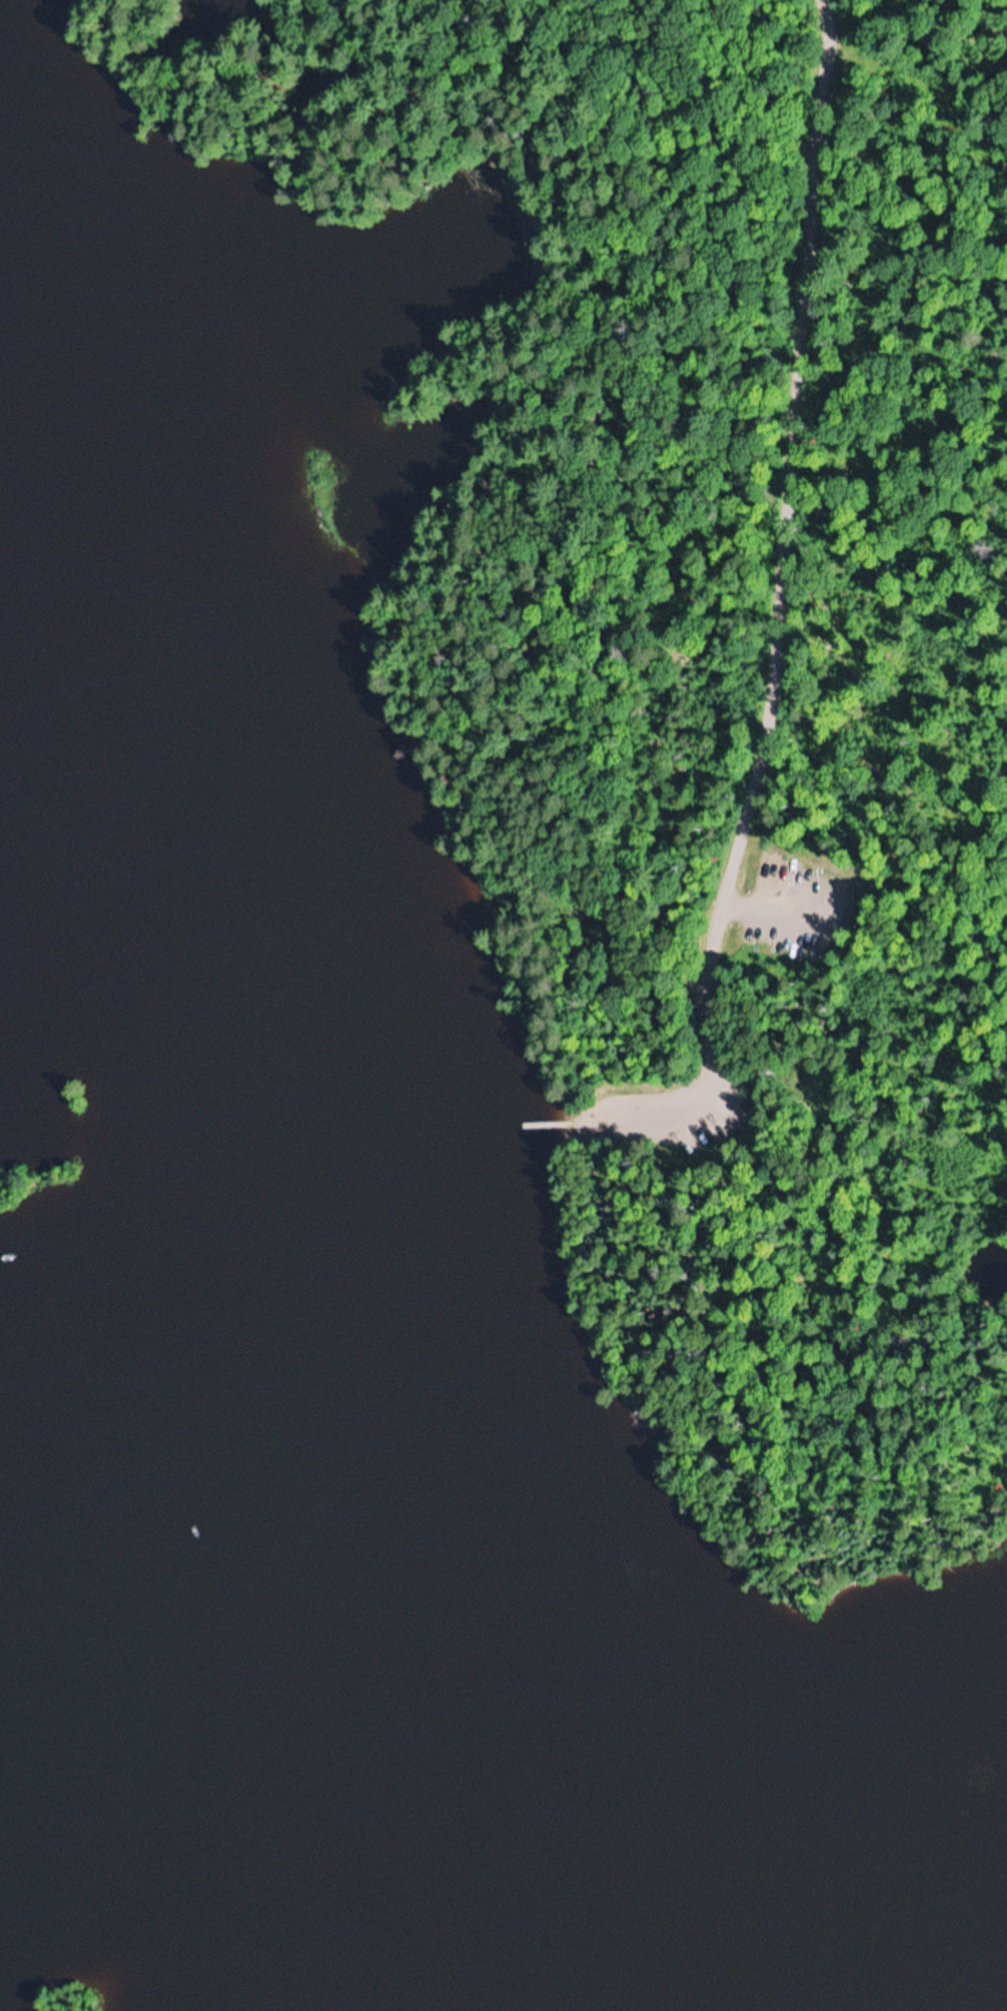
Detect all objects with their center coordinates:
road: (778, 604)

